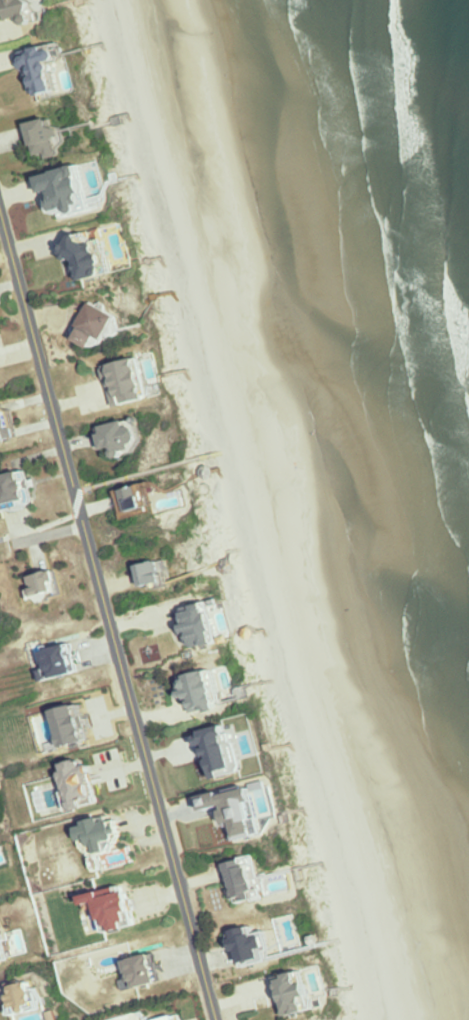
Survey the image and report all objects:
building: (29, 6)
building: (49, 71)
building: (51, 138)
building: (78, 192)
building: (95, 255)
building: (98, 326)
building: (133, 382)
building: (8, 423)
building: (126, 438)
road: (150, 471)
building: (21, 488)
building: (142, 501)
road: (78, 502)
road: (37, 527)
building: (157, 574)
building: (50, 585)
road: (107, 615)
building: (207, 625)
building: (67, 662)
building: (211, 691)
building: (109, 833)
building: (248, 880)
building: (135, 893)
building: (5, 943)
building: (258, 947)
building: (152, 972)
building: (306, 992)
building: (180, 1018)

